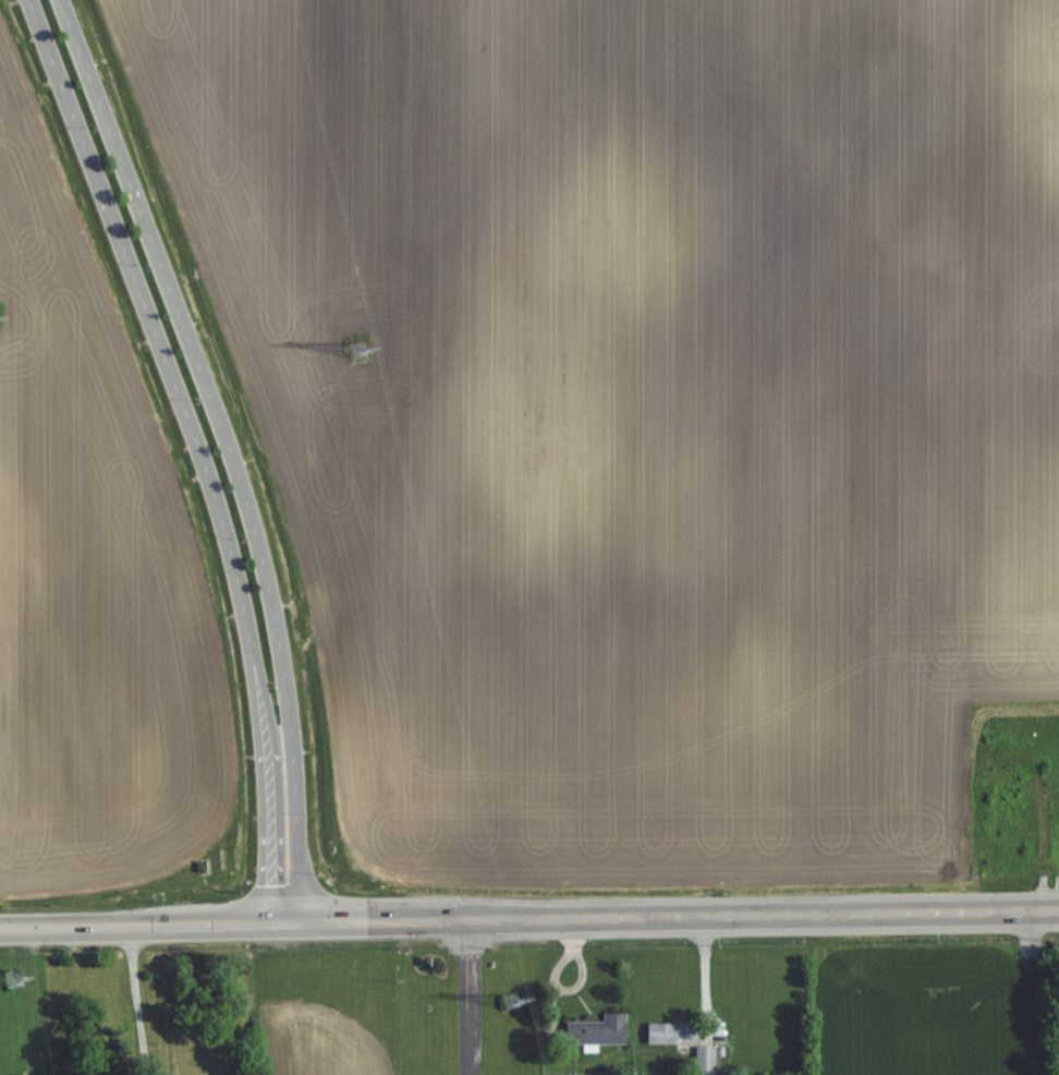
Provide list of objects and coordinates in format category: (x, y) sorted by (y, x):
power tower: (365, 347)
road: (199, 364)
road: (169, 367)
road: (284, 832)
road: (528, 919)
power tower: (14, 988)
road: (466, 998)
road: (137, 1000)
power tower: (513, 1001)
building: (596, 1030)
building: (671, 1032)

